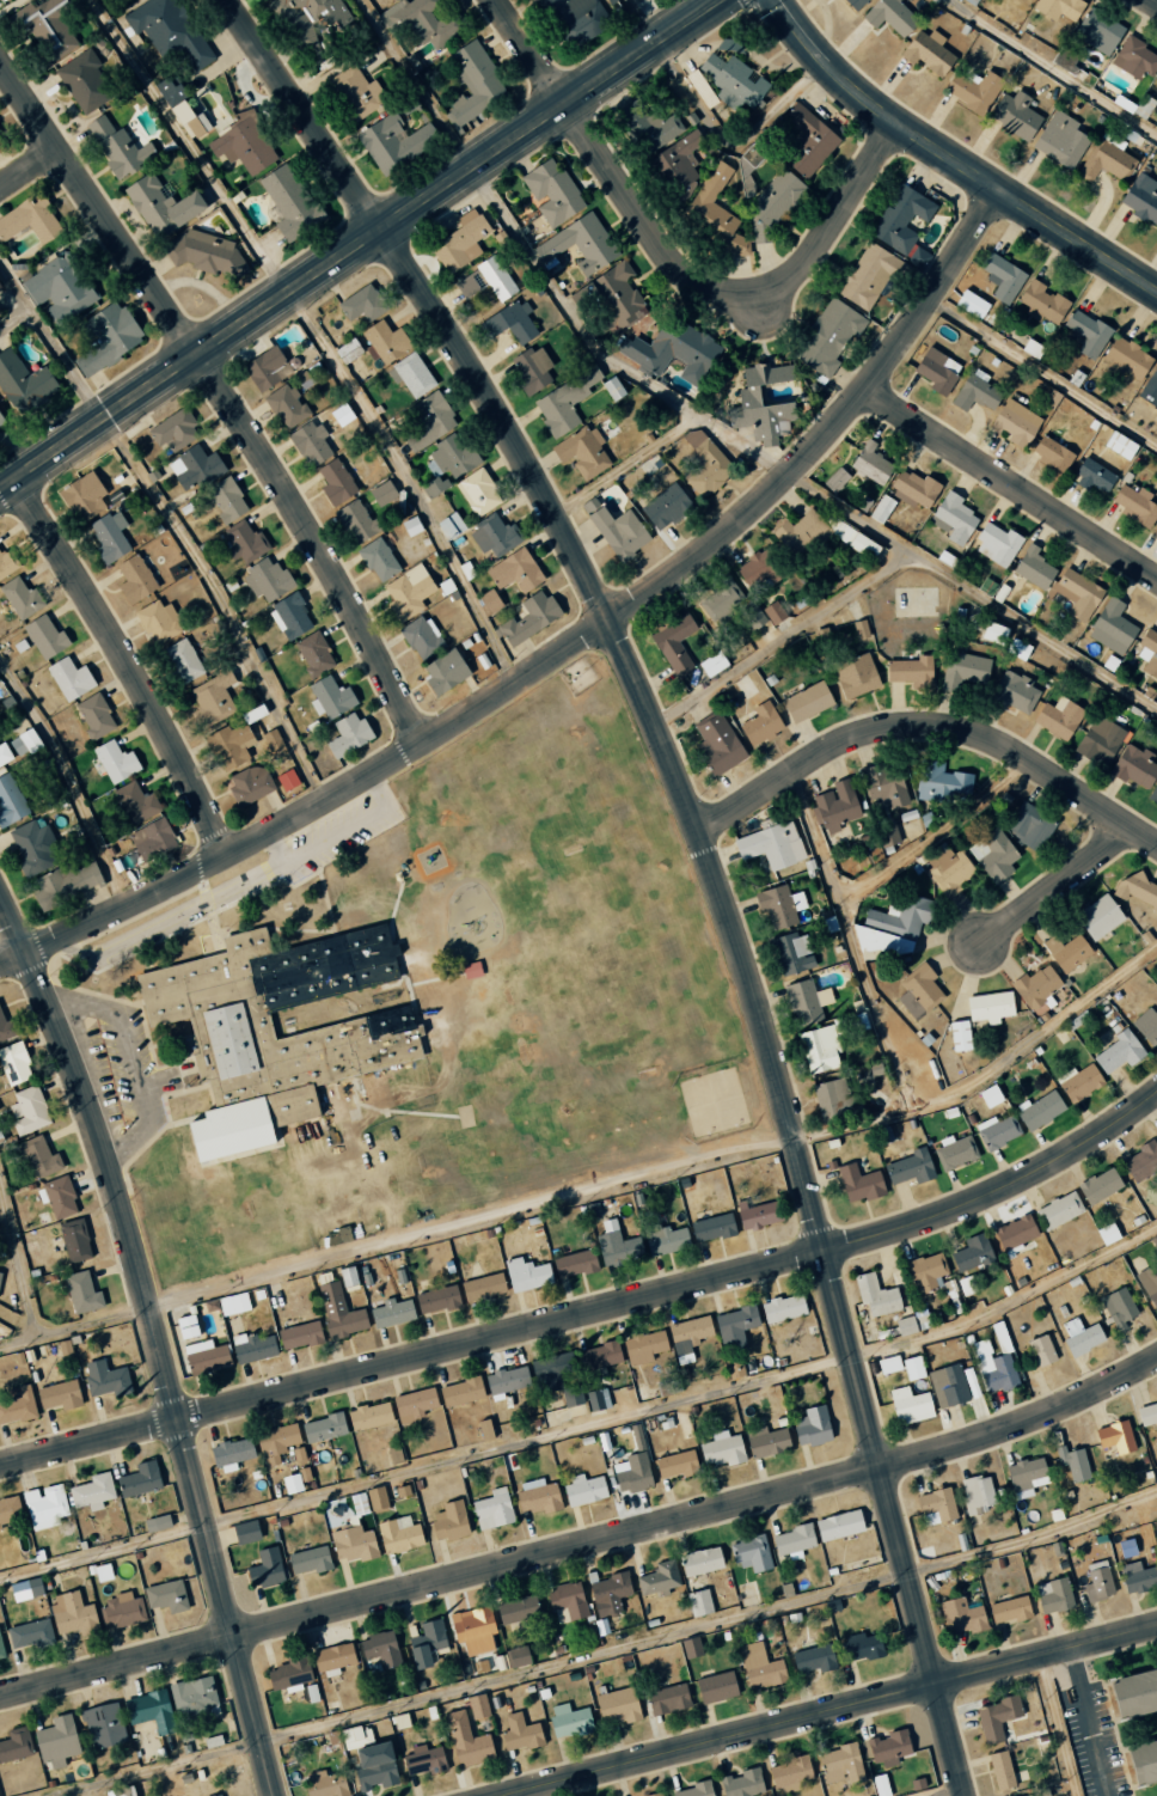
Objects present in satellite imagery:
road: (1152, 1)
building: (855, 4)
building: (1058, 8)
building: (327, 12)
building: (889, 16)
building: (575, 19)
road: (642, 20)
building: (430, 22)
building: (299, 26)
building: (45, 30)
building: (167, 31)
road: (797, 32)
building: (1096, 32)
road: (528, 51)
building: (926, 51)
building: (1134, 59)
building: (1156, 77)
building: (733, 80)
building: (85, 81)
building: (472, 81)
building: (700, 88)
building: (972, 90)
building: (169, 91)
building: (356, 92)
building: (1143, 106)
building: (1014, 114)
building: (185, 120)
building: (202, 122)
building: (650, 127)
building: (808, 139)
building: (1060, 140)
building: (393, 142)
building: (243, 145)
building: (118, 146)
building: (0, 148)
building: (679, 157)
building: (1104, 161)
road: (27, 169)
road: (985, 184)
building: (551, 191)
building: (1141, 197)
building: (776, 198)
building: (288, 202)
building: (160, 204)
building: (714, 204)
building: (901, 219)
building: (29, 220)
building: (459, 242)
road: (357, 243)
building: (580, 243)
building: (206, 252)
building: (868, 276)
building: (1002, 277)
building: (485, 280)
road: (724, 288)
building: (56, 289)
building: (616, 293)
building: (1041, 301)
building: (362, 304)
building: (971, 304)
building: (510, 322)
building: (1086, 332)
building: (104, 337)
building: (827, 337)
building: (385, 341)
building: (347, 350)
building: (671, 350)
building: (1126, 359)
building: (264, 368)
building: (531, 369)
building: (936, 371)
building: (412, 374)
building: (23, 383)
building: (612, 387)
building: (1150, 387)
building: (975, 391)
road: (222, 396)
building: (564, 402)
building: (763, 403)
building: (286, 405)
building: (341, 414)
building: (429, 421)
building: (0, 422)
building: (1015, 422)
building: (172, 430)
building: (310, 444)
building: (1119, 445)
building: (583, 452)
building: (1051, 453)
building: (453, 454)
building: (870, 463)
building: (651, 464)
building: (704, 464)
building: (194, 468)
building: (1091, 475)
building: (835, 479)
building: (335, 482)
building: (434, 482)
road: (1011, 482)
building: (913, 489)
building: (478, 491)
building: (382, 493)
building: (82, 496)
building: (225, 499)
building: (606, 501)
building: (1134, 505)
building: (665, 506)
building: (881, 508)
building: (954, 518)
building: (355, 521)
building: (410, 526)
building: (449, 526)
building: (618, 531)
building: (1155, 531)
building: (800, 533)
building: (109, 536)
building: (494, 536)
building: (244, 543)
building: (996, 544)
building: (861, 545)
building: (378, 560)
building: (6, 563)
building: (1031, 567)
building: (754, 569)
building: (514, 572)
building: (134, 579)
building: (267, 579)
building: (408, 592)
building: (1076, 593)
building: (20, 598)
building: (488, 601)
building: (720, 601)
building: (775, 611)
building: (289, 616)
building: (528, 618)
building: (158, 622)
building: (1110, 627)
building: (859, 629)
building: (993, 633)
building: (44, 637)
building: (421, 637)
building: (821, 637)
building: (674, 645)
building: (1017, 649)
road: (558, 650)
building: (1147, 652)
building: (313, 653)
building: (182, 661)
road: (124, 664)
building: (711, 664)
building: (963, 670)
building: (443, 672)
building: (911, 672)
building: (855, 676)
building: (69, 678)
building: (1015, 692)
building: (329, 697)
building: (806, 702)
building: (94, 715)
building: (1058, 717)
building: (760, 723)
road: (929, 727)
building: (347, 734)
building: (271, 739)
building: (1100, 739)
building: (24, 743)
building: (717, 744)
building: (229, 745)
building: (5, 755)
building: (115, 762)
building: (1133, 766)
building: (287, 780)
building: (939, 782)
building: (249, 784)
building: (884, 786)
building: (1152, 795)
building: (10, 801)
building: (135, 802)
building: (833, 807)
building: (1030, 829)
road: (935, 833)
building: (152, 839)
building: (33, 845)
building: (771, 845)
road: (704, 850)
building: (993, 855)
building: (948, 868)
building: (65, 884)
road: (1055, 884)
building: (1137, 890)
building: (779, 905)
building: (1097, 917)
building: (892, 927)
road: (851, 940)
building: (1066, 952)
building: (791, 954)
building: (471, 970)
building: (1036, 985)
building: (918, 991)
building: (806, 1002)
building: (990, 1007)
building: (849, 1025)
building: (1146, 1026)
building: (6, 1028)
building: (959, 1036)
building: (301, 1049)
building: (819, 1049)
building: (1118, 1052)
building: (14, 1063)
road: (990, 1073)
building: (1078, 1082)
building: (372, 1088)
building: (990, 1095)
building: (335, 1098)
building: (834, 1098)
building: (27, 1110)
building: (1040, 1110)
building: (343, 1129)
building: (996, 1131)
building: (954, 1151)
building: (38, 1157)
building: (1140, 1162)
building: (908, 1167)
building: (858, 1183)
building: (1098, 1186)
building: (57, 1197)
building: (1058, 1210)
building: (758, 1215)
road: (470, 1220)
building: (712, 1228)
building: (1015, 1234)
building: (1107, 1234)
building: (74, 1240)
building: (665, 1240)
building: (616, 1245)
building: (972, 1253)
building: (574, 1264)
road: (16, 1265)
building: (926, 1271)
building: (526, 1275)
building: (347, 1277)
building: (968, 1284)
building: (1149, 1285)
building: (482, 1288)
building: (81, 1291)
building: (875, 1296)
building: (436, 1300)
building: (233, 1303)
road: (1008, 1303)
building: (782, 1307)
road: (592, 1308)
building: (1118, 1308)
building: (338, 1312)
building: (392, 1313)
building: (913, 1322)
road: (74, 1326)
building: (185, 1327)
building: (734, 1327)
building: (688, 1333)
building: (299, 1336)
building: (749, 1337)
building: (1079, 1337)
road: (158, 1345)
building: (62, 1346)
building: (643, 1346)
building: (252, 1348)
building: (1041, 1350)
building: (204, 1356)
building: (598, 1358)
building: (994, 1363)
building: (888, 1364)
building: (912, 1368)
building: (558, 1376)
building: (104, 1377)
building: (506, 1381)
building: (948, 1385)
building: (460, 1391)
building: (60, 1394)
building: (594, 1399)
building: (414, 1404)
building: (910, 1405)
building: (18, 1406)
building: (1146, 1413)
building: (369, 1416)
building: (812, 1427)
building: (323, 1428)
building: (484, 1429)
building: (636, 1436)
building: (1114, 1436)
building: (276, 1441)
road: (527, 1441)
building: (766, 1441)
building: (721, 1449)
building: (231, 1454)
building: (1072, 1462)
building: (677, 1465)
building: (631, 1472)
building: (1026, 1477)
building: (139, 1479)
building: (290, 1483)
building: (583, 1490)
building: (92, 1492)
building: (975, 1493)
building: (537, 1496)
building: (377, 1498)
building: (44, 1505)
building: (936, 1505)
building: (492, 1509)
building: (10, 1510)
building: (449, 1521)
building: (157, 1523)
building: (838, 1525)
building: (245, 1532)
building: (398, 1534)
road: (1033, 1538)
building: (791, 1541)
road: (583, 1543)
building: (353, 1544)
building: (1126, 1547)
building: (751, 1553)
building: (308, 1560)
building: (699, 1560)
building: (264, 1569)
building: (1137, 1576)
building: (657, 1578)
building: (1097, 1581)
building: (25, 1589)
building: (607, 1592)
building: (165, 1595)
building: (1053, 1595)
building: (568, 1600)
building: (698, 1602)
building: (516, 1609)
building: (1009, 1609)
building: (120, 1611)
building: (73, 1614)
building: (961, 1618)
building: (472, 1629)
building: (30, 1633)
building: (427, 1643)
building: (690, 1647)
building: (861, 1647)
building: (380, 1649)
building: (1, 1650)
building: (518, 1656)
road: (583, 1657)
building: (331, 1658)
building: (813, 1658)
building: (760, 1667)
building: (288, 1675)
building: (716, 1687)
building: (1133, 1693)
building: (192, 1698)
building: (667, 1699)
building: (478, 1706)
building: (617, 1706)
building: (149, 1710)
road: (828, 1710)
building: (996, 1718)
building: (399, 1721)
building: (569, 1721)
road: (1085, 1722)
building: (103, 1725)
building: (519, 1733)
building: (56, 1741)
building: (466, 1741)
building: (13, 1747)
building: (888, 1748)
building: (369, 1758)
building: (423, 1760)
building: (1141, 1761)
building: (841, 1764)
building: (999, 1770)
building: (790, 1773)
building: (740, 1783)
building: (324, 1784)
building: (880, 1785)
building: (1037, 1789)
building: (693, 1790)
building: (654, 1794)
building: (218, 1795)

